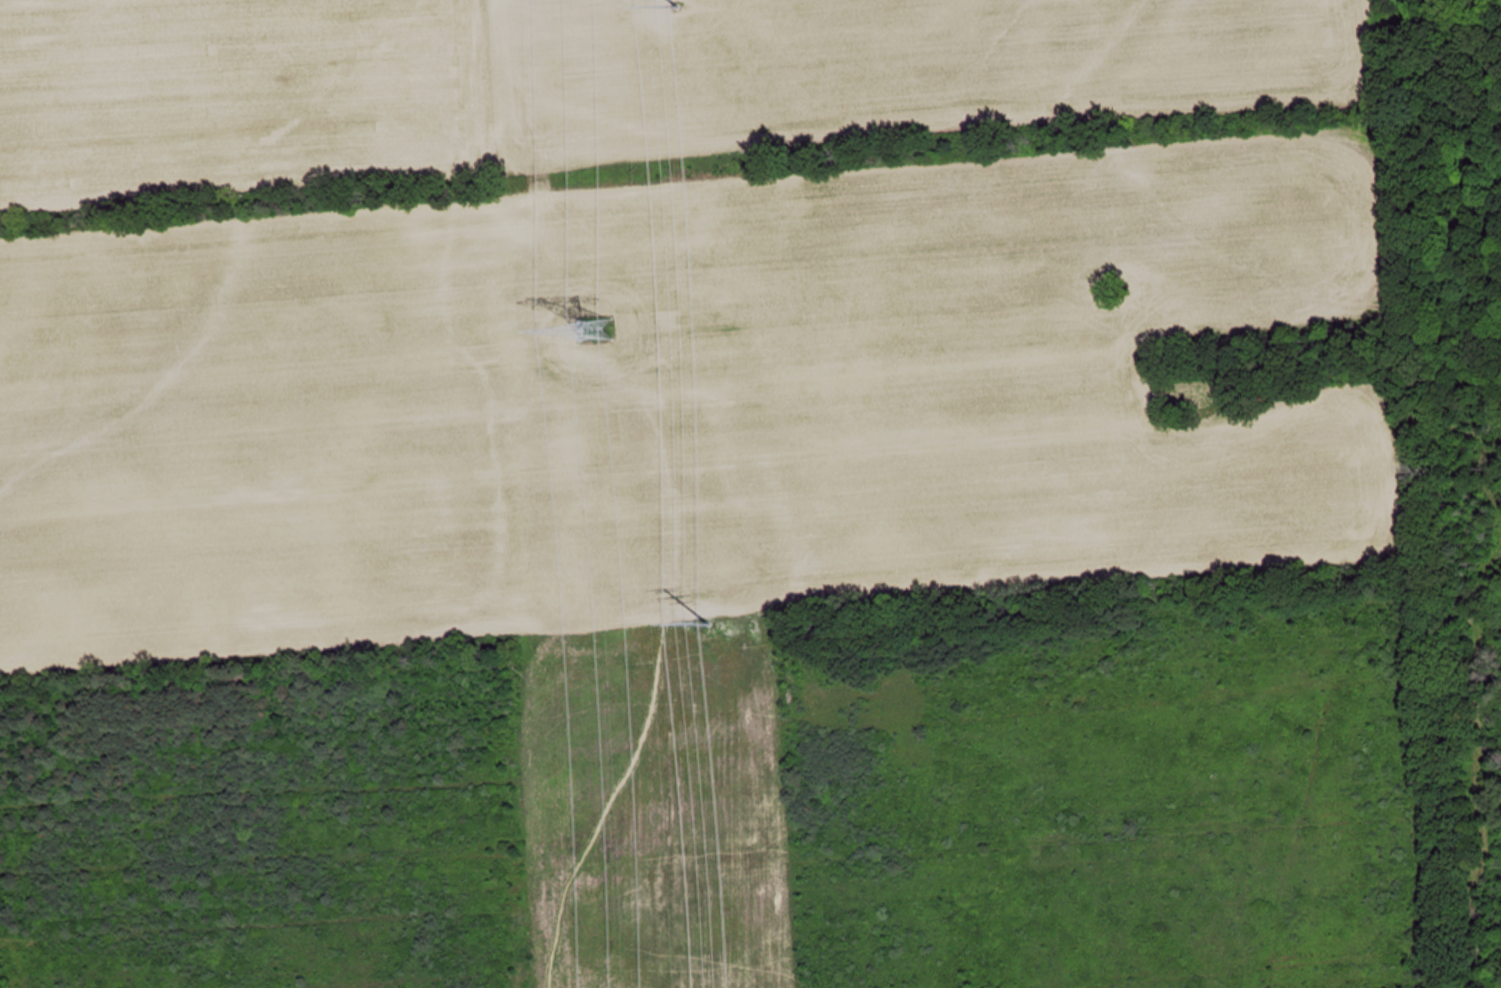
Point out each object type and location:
power tower: (683, 9)
power tower: (597, 331)
power tower: (708, 622)

